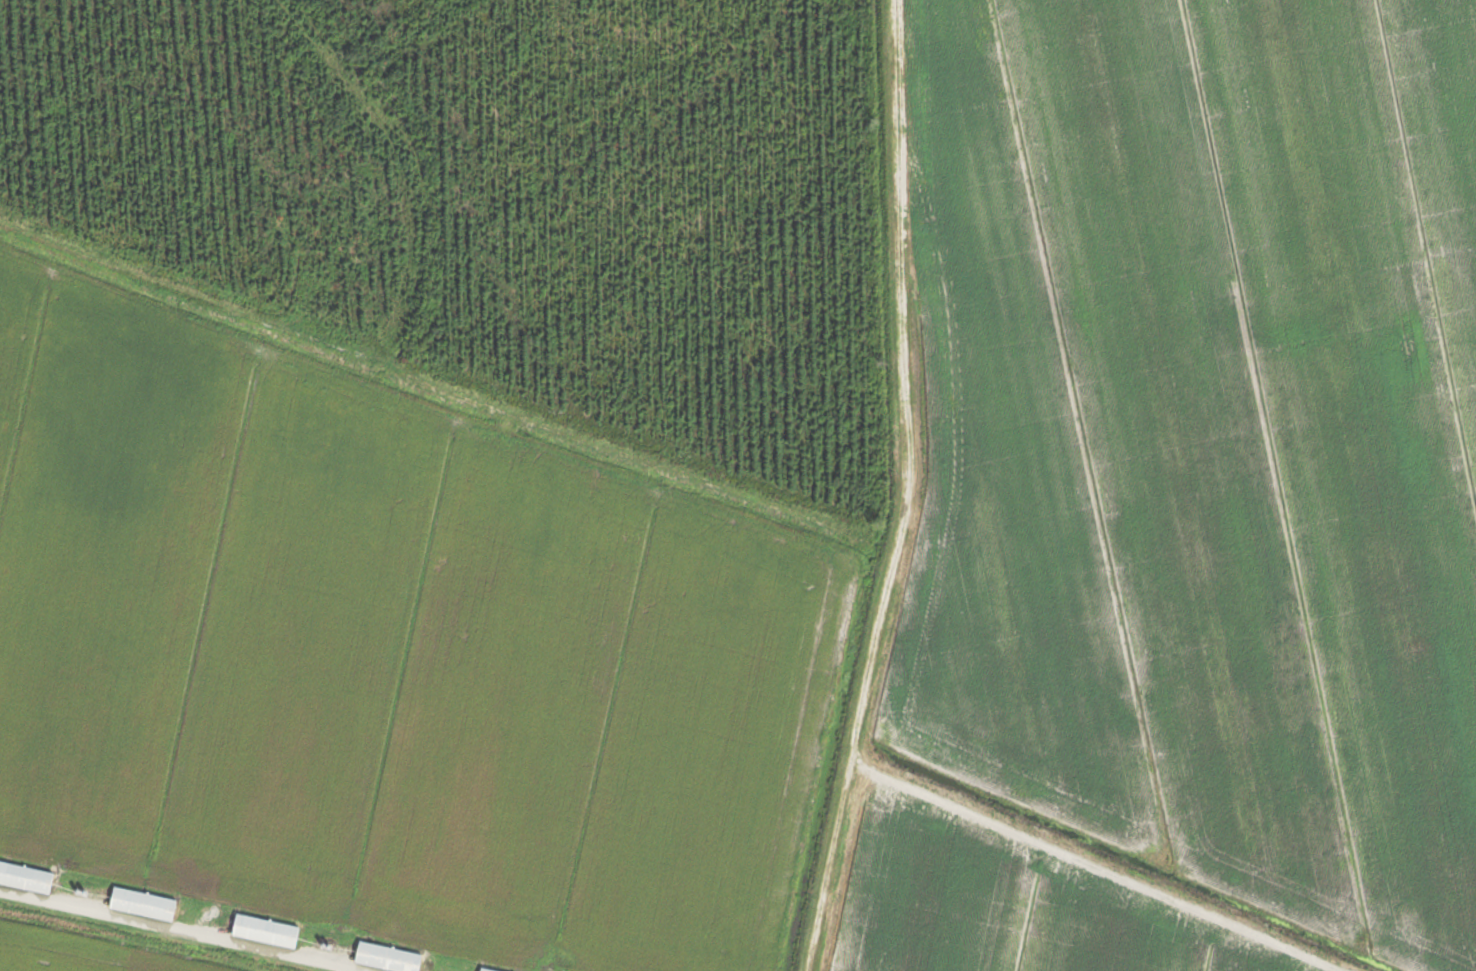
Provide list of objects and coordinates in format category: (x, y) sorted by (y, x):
road: (908, 490)
building: (24, 878)
building: (139, 904)
road: (181, 931)
building: (262, 931)
building: (383, 957)
building: (481, 969)

